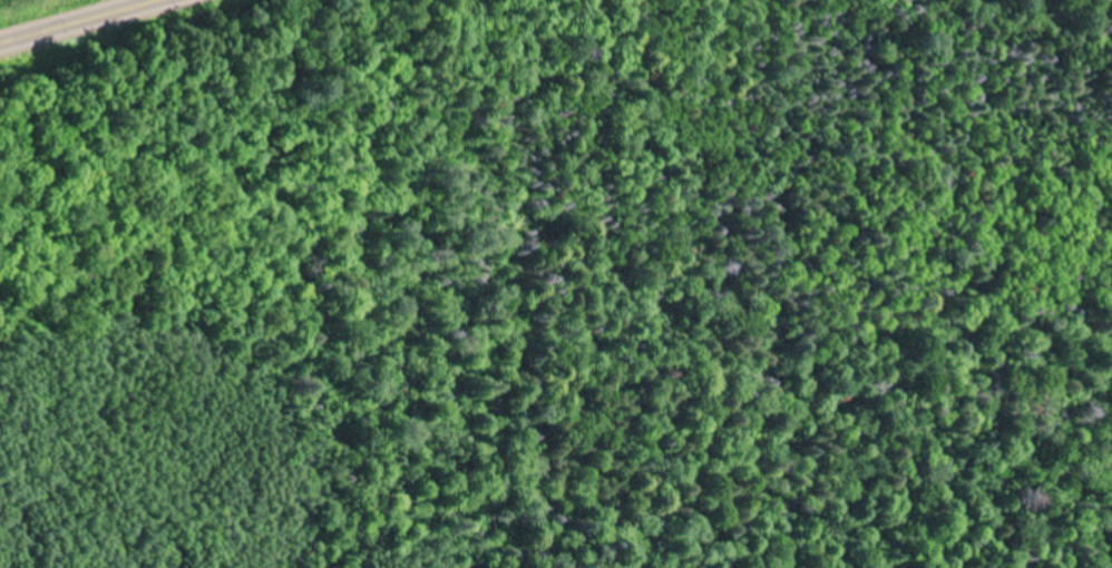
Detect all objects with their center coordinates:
road: (78, 21)

